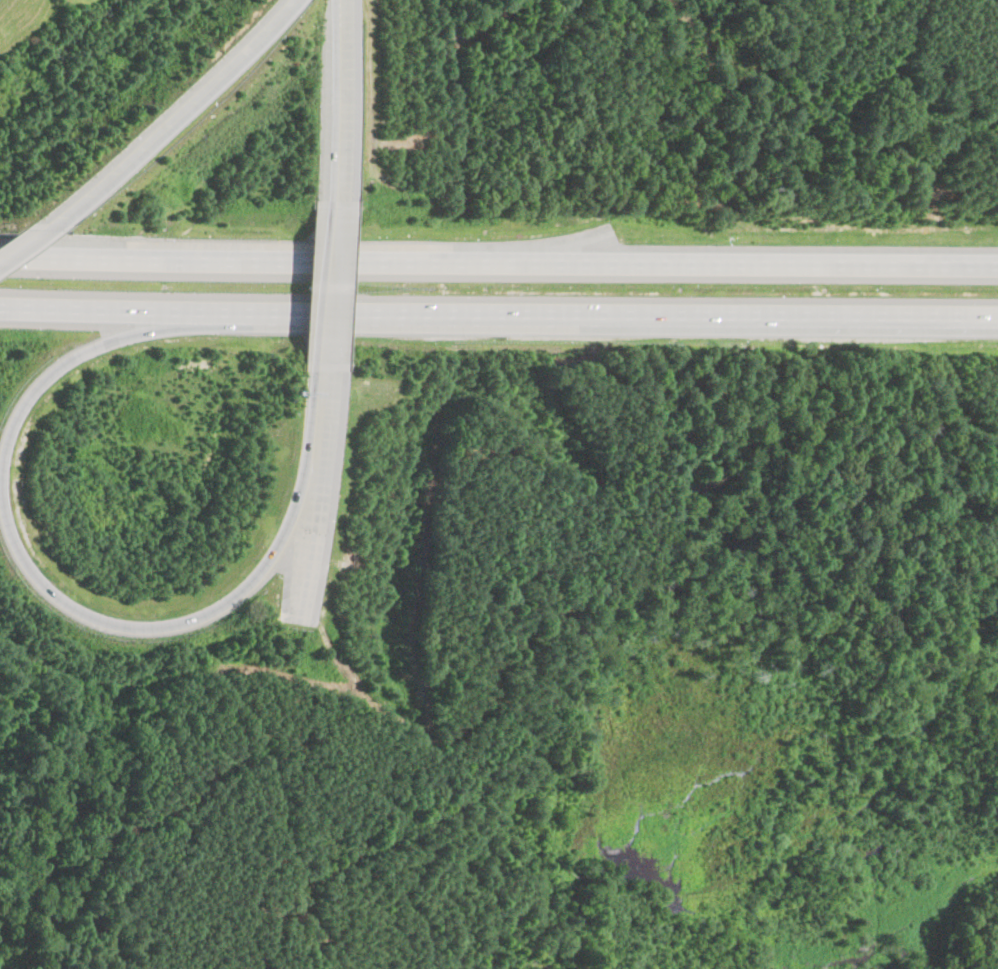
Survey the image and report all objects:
road: (340, 99)
road: (170, 121)
road: (22, 243)
road: (498, 261)
road: (330, 288)
road: (498, 320)
road: (93, 348)
road: (318, 418)
road: (172, 624)

